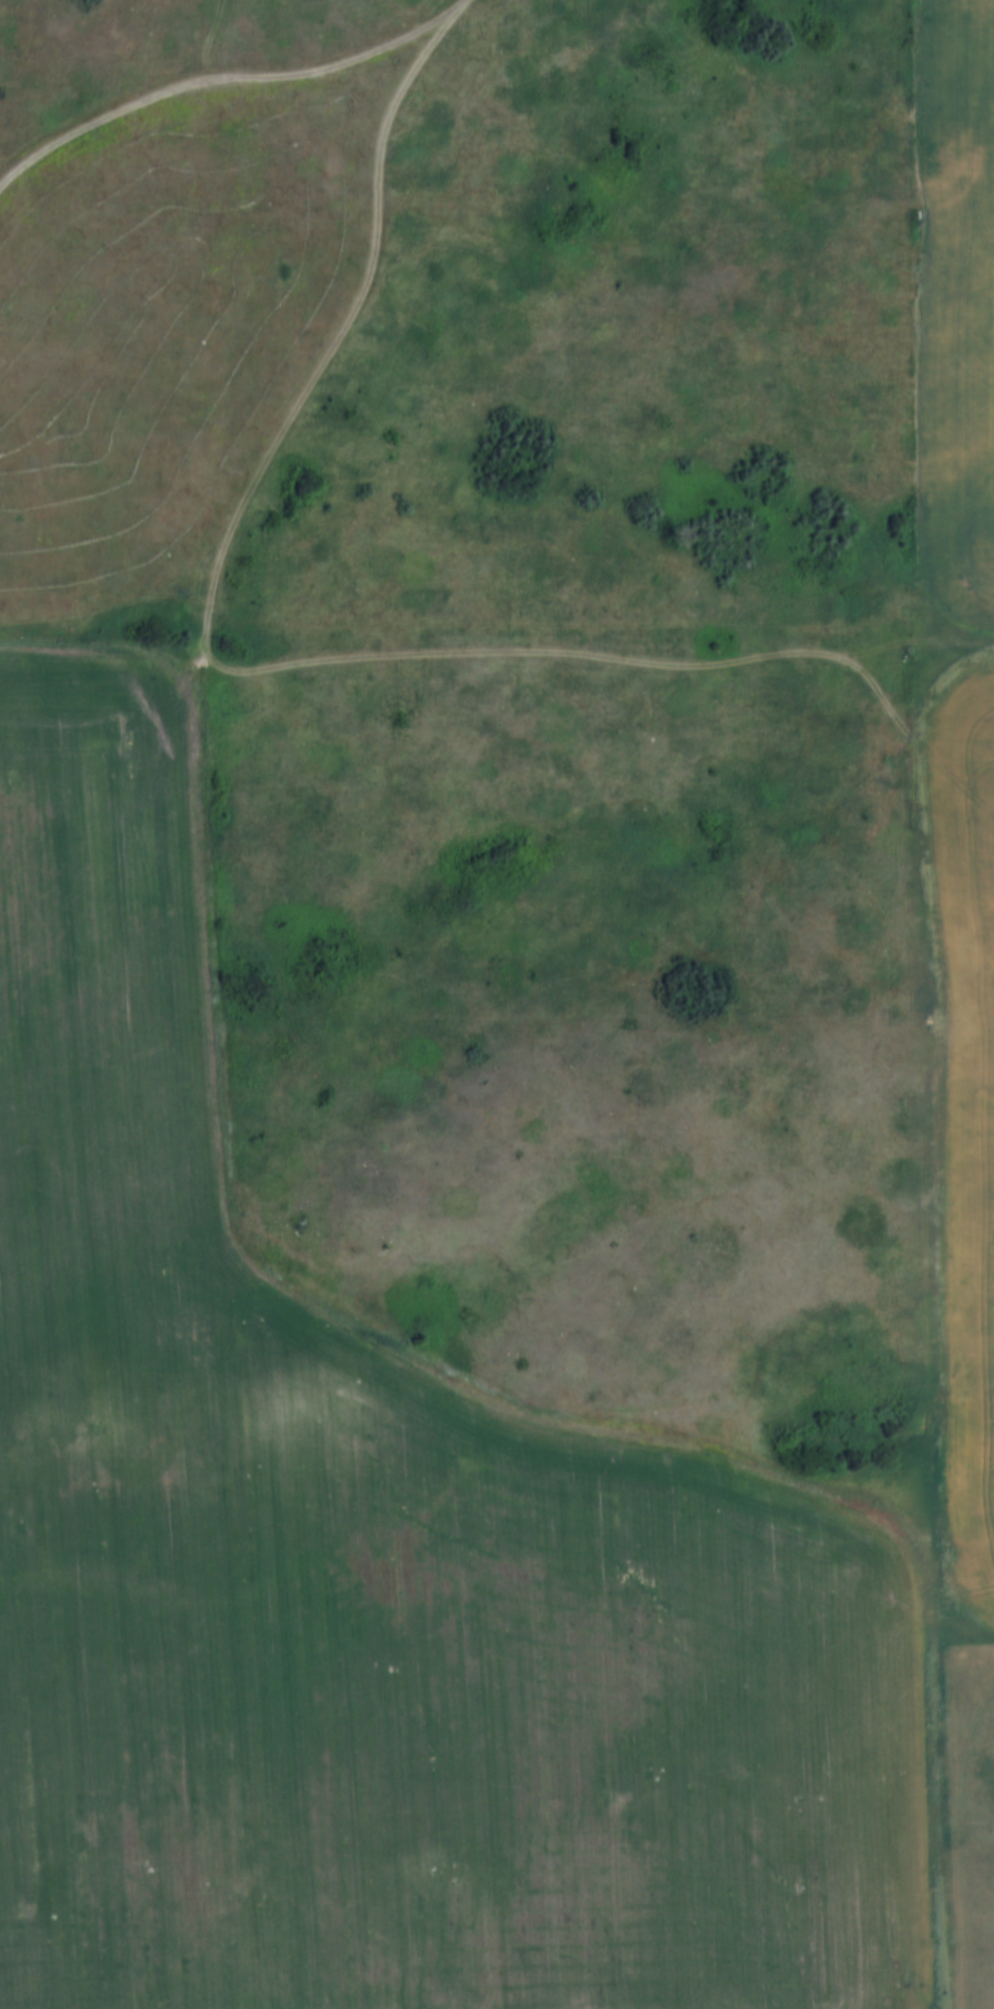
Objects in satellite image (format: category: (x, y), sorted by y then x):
road: (226, 74)
road: (346, 332)

